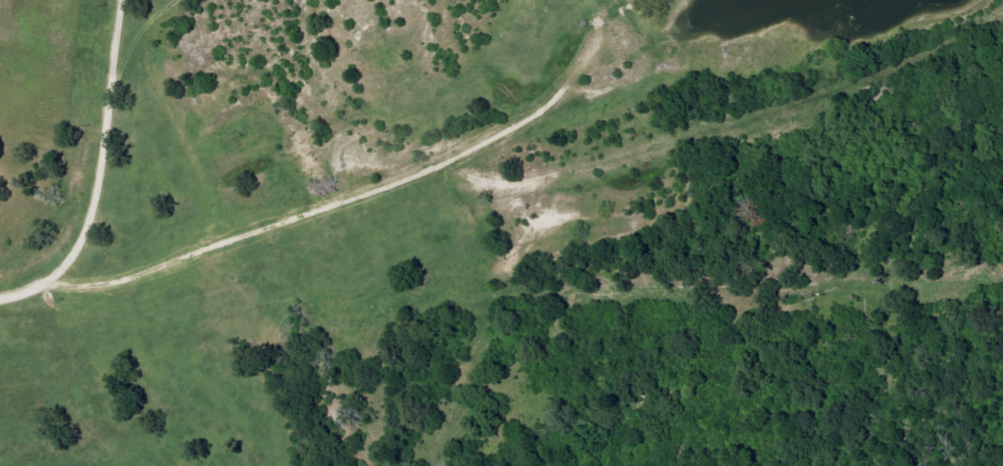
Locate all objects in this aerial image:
road: (104, 171)

